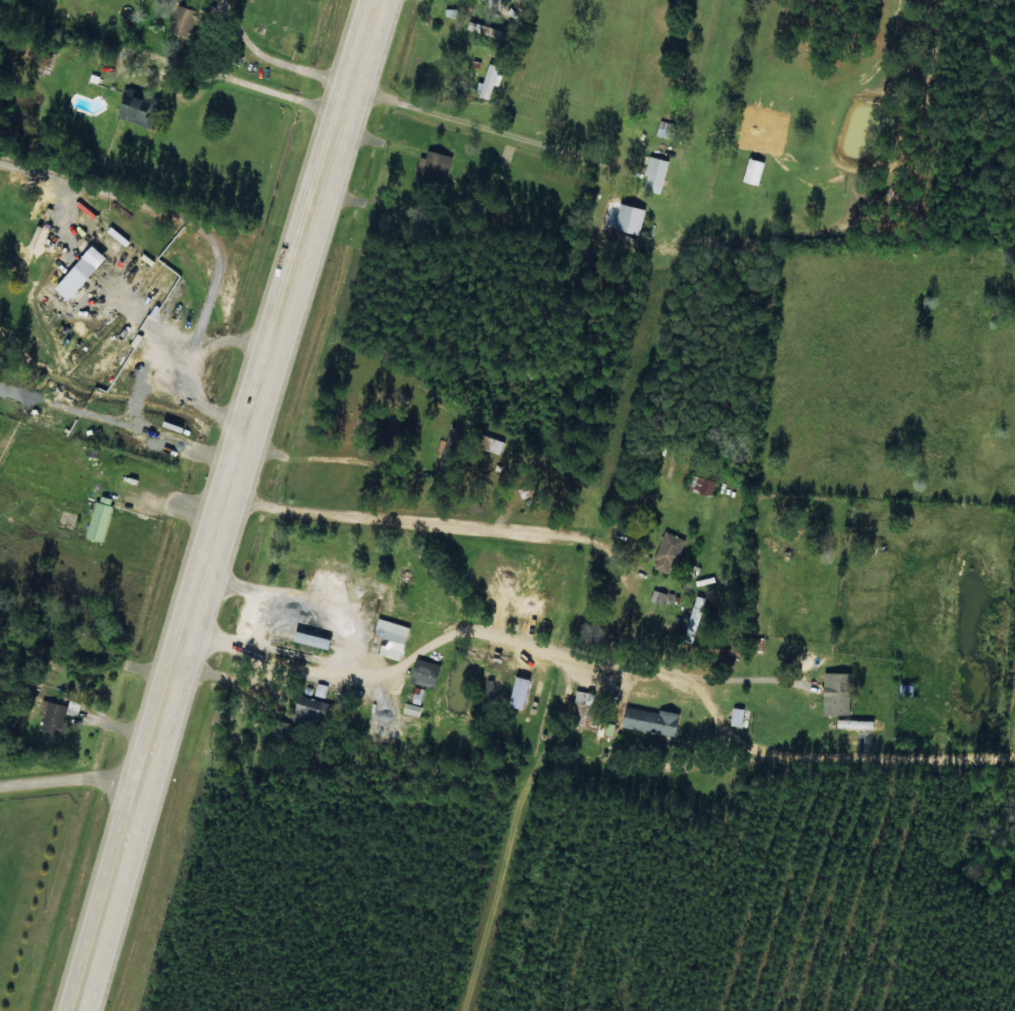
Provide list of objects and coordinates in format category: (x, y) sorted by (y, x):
building: (450, 12)
building: (182, 20)
building: (488, 82)
road: (172, 85)
building: (137, 108)
road: (340, 123)
building: (431, 171)
building: (752, 172)
building: (653, 175)
building: (627, 219)
building: (80, 225)
building: (79, 269)
building: (490, 445)
building: (701, 485)
building: (99, 518)
building: (666, 553)
building: (693, 618)
road: (191, 628)
building: (388, 638)
road: (654, 647)
building: (424, 672)
building: (517, 691)
building: (835, 693)
building: (417, 695)
building: (412, 709)
building: (307, 710)
building: (736, 716)
building: (53, 717)
building: (650, 720)
road: (72, 796)

